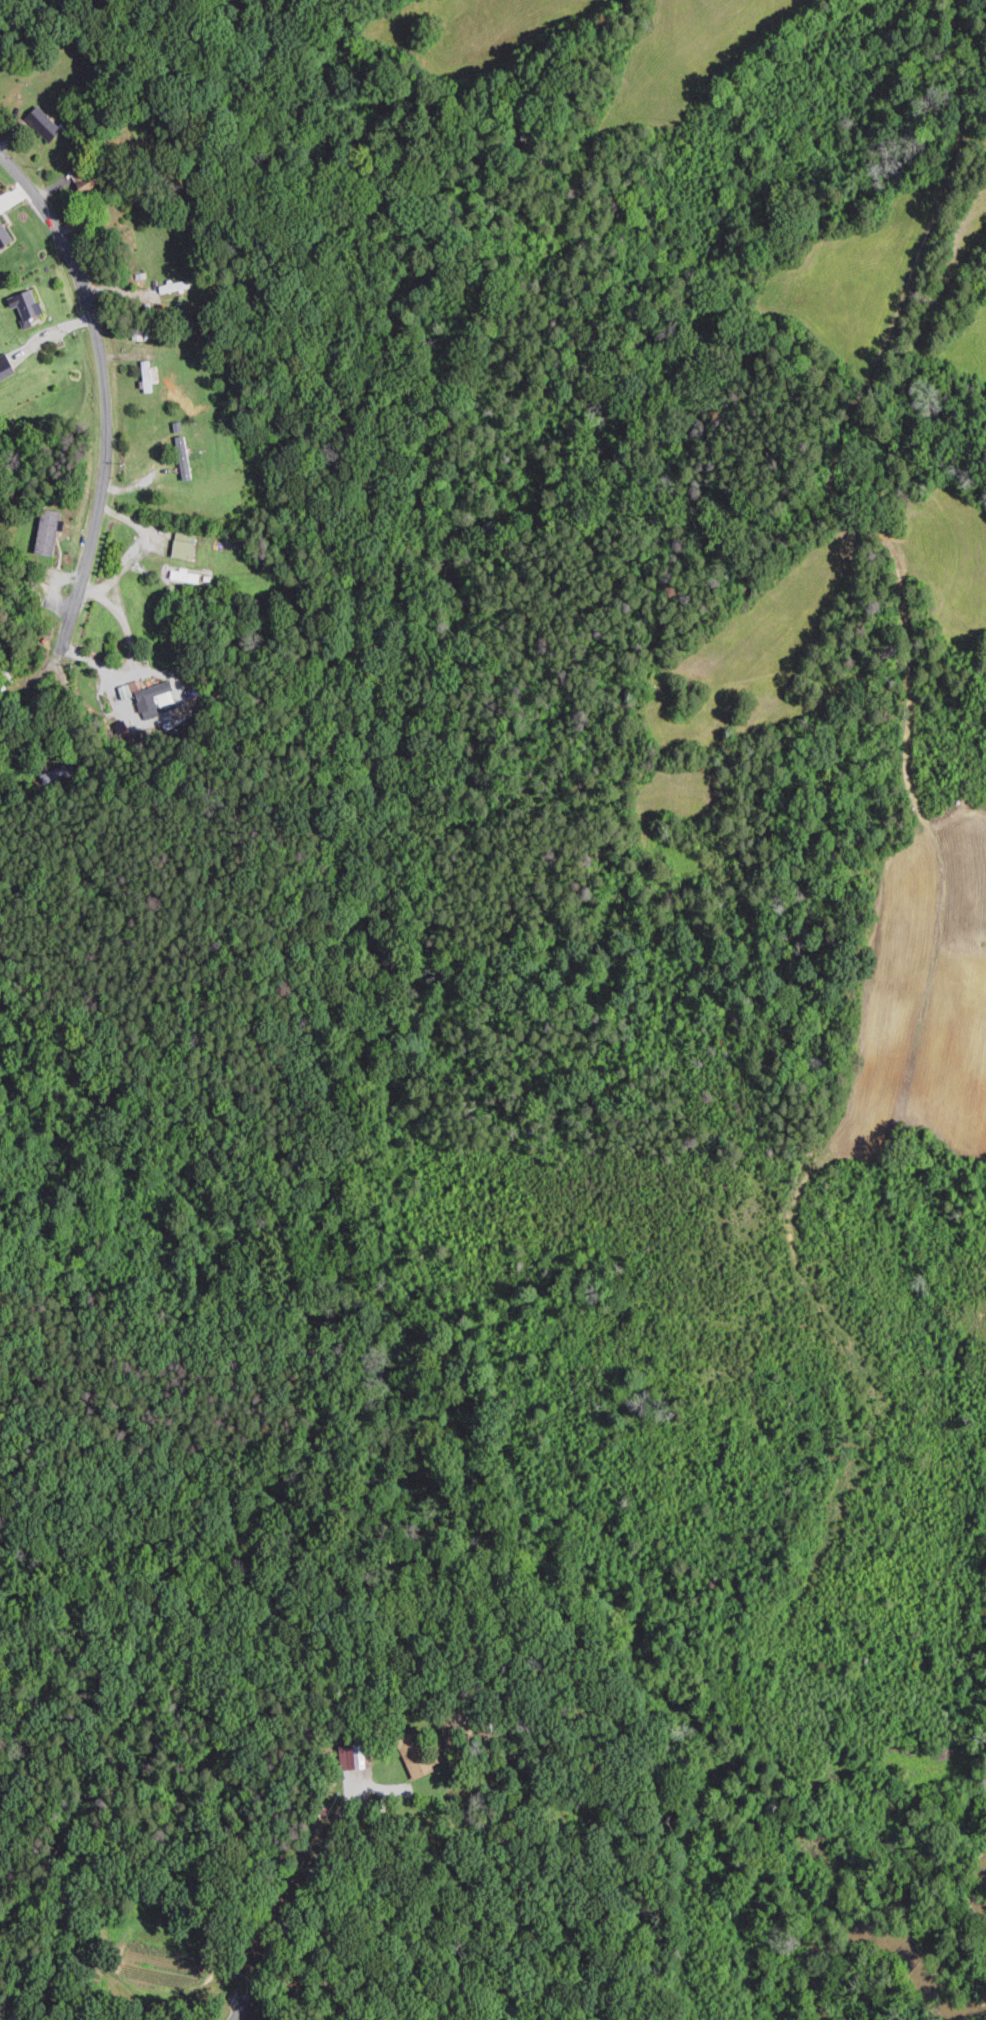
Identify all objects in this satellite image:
building: (43, 122)
building: (4, 234)
building: (174, 285)
building: (25, 305)
building: (5, 367)
road: (107, 386)
building: (49, 531)
building: (184, 544)
building: (156, 700)
building: (350, 1754)
road: (298, 1899)

